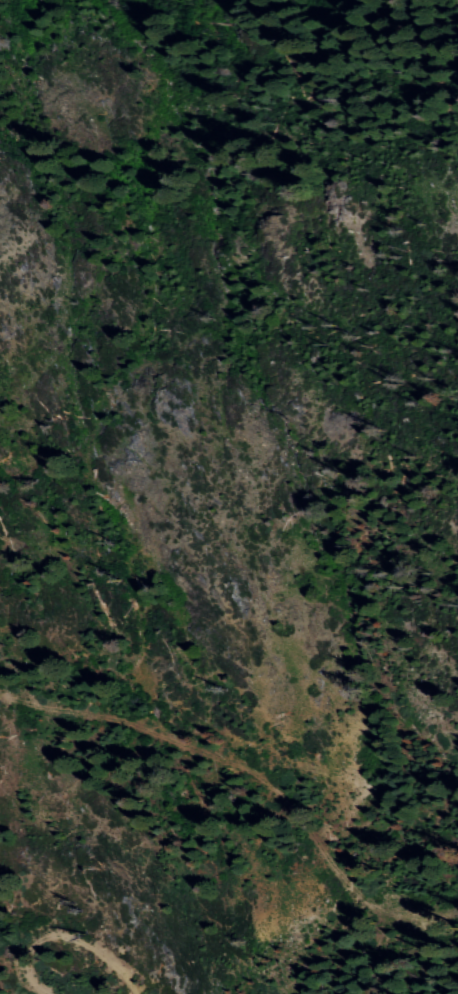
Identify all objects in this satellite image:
road: (258, 775)
road: (72, 937)

